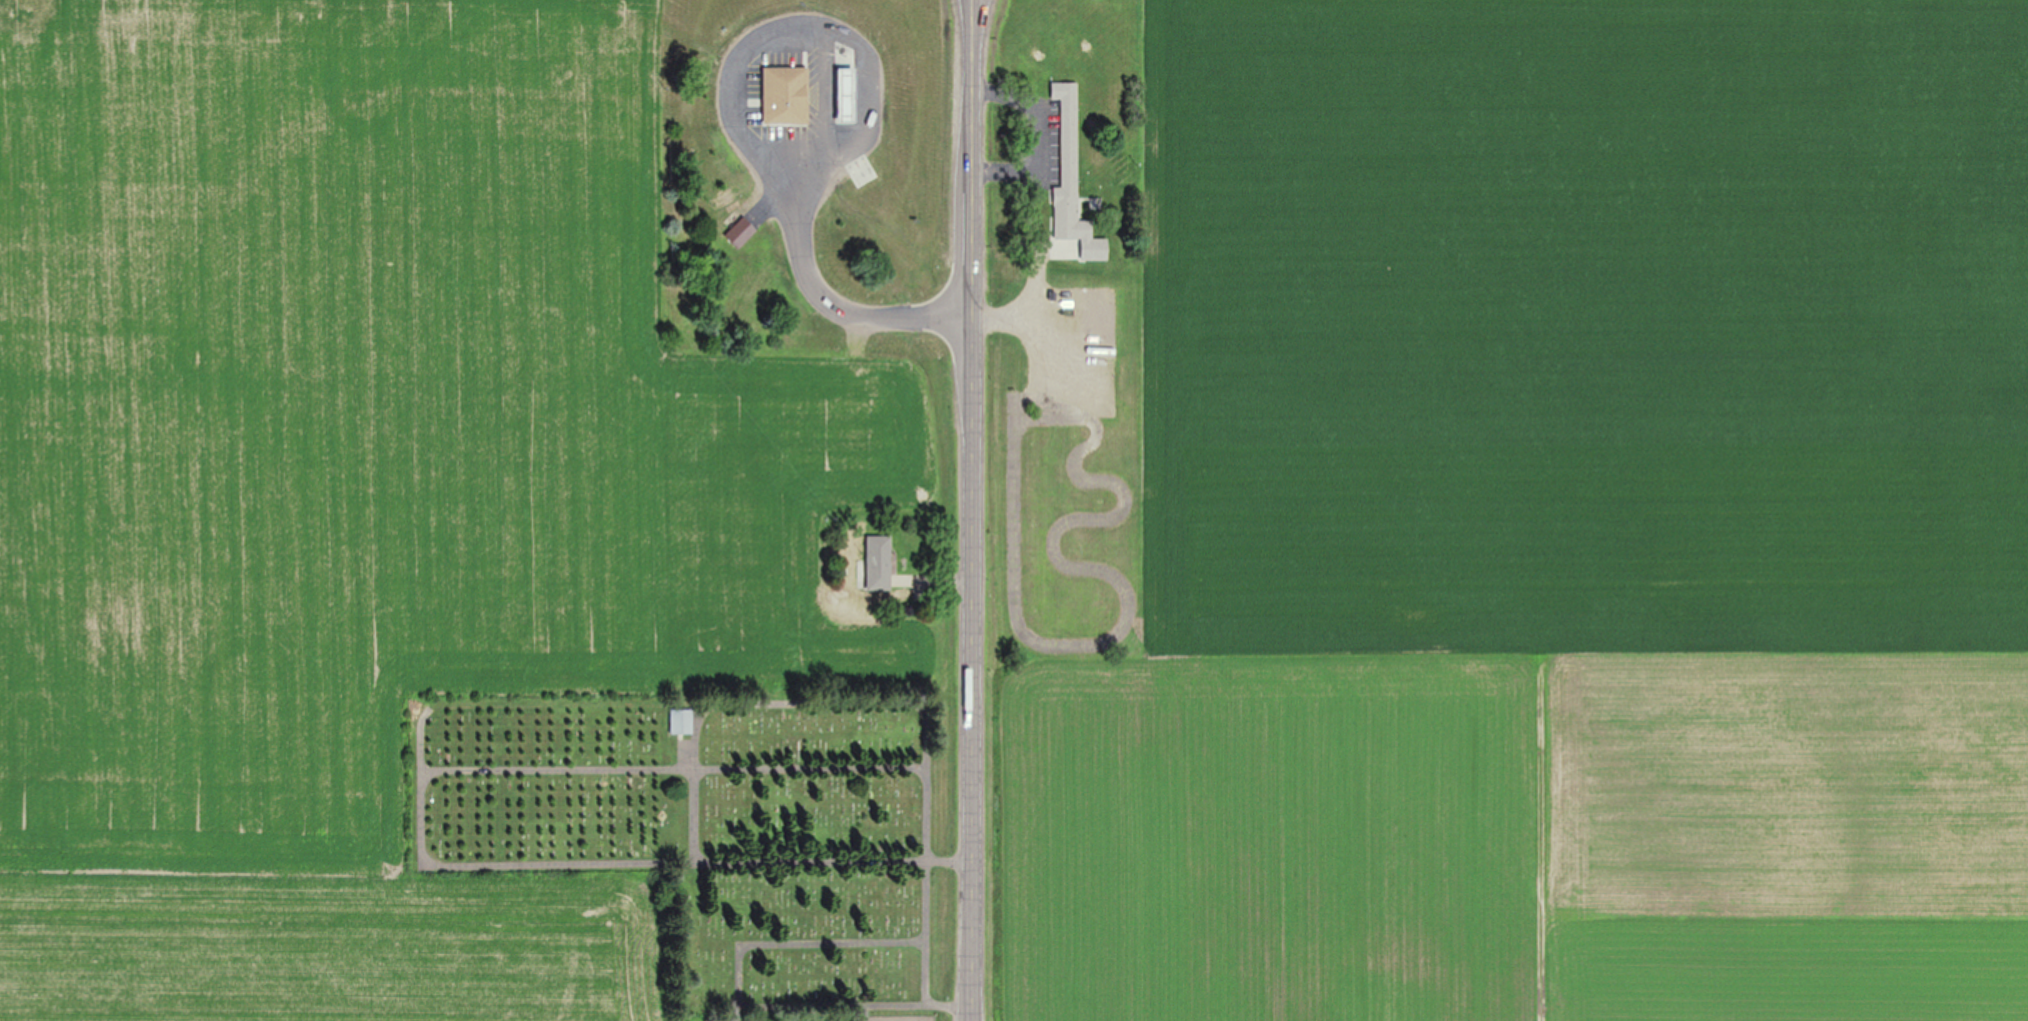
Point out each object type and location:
road: (971, 25)
road: (977, 25)
building: (848, 92)
building: (787, 95)
road: (738, 129)
building: (1068, 162)
road: (971, 182)
building: (741, 231)
building: (1032, 383)
crop: (376, 419)
building: (880, 562)
road: (972, 652)
building: (682, 720)
park: (701, 827)
crop: (332, 945)
road: (974, 1006)

